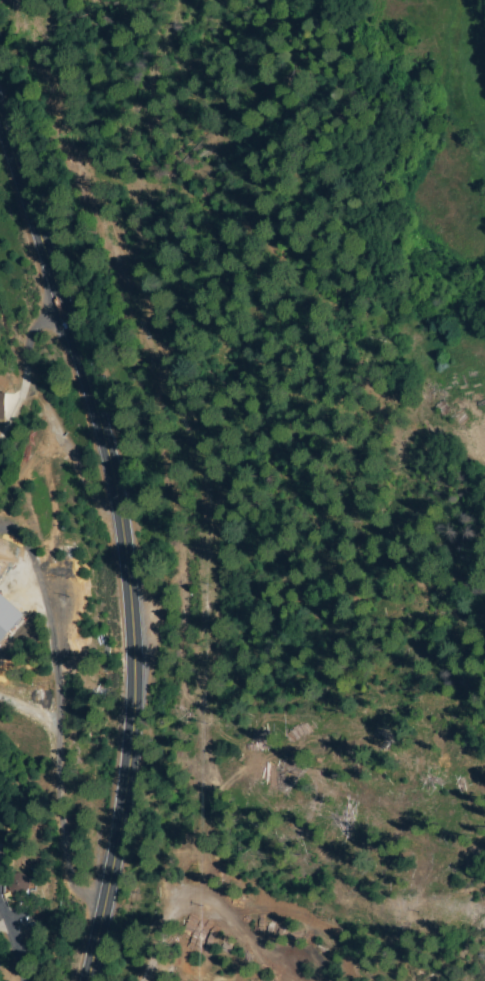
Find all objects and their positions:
road: (22, 385)
building: (1, 404)
road: (472, 512)
road: (126, 545)
building: (8, 617)
road: (51, 730)
building: (21, 887)
road: (8, 954)

